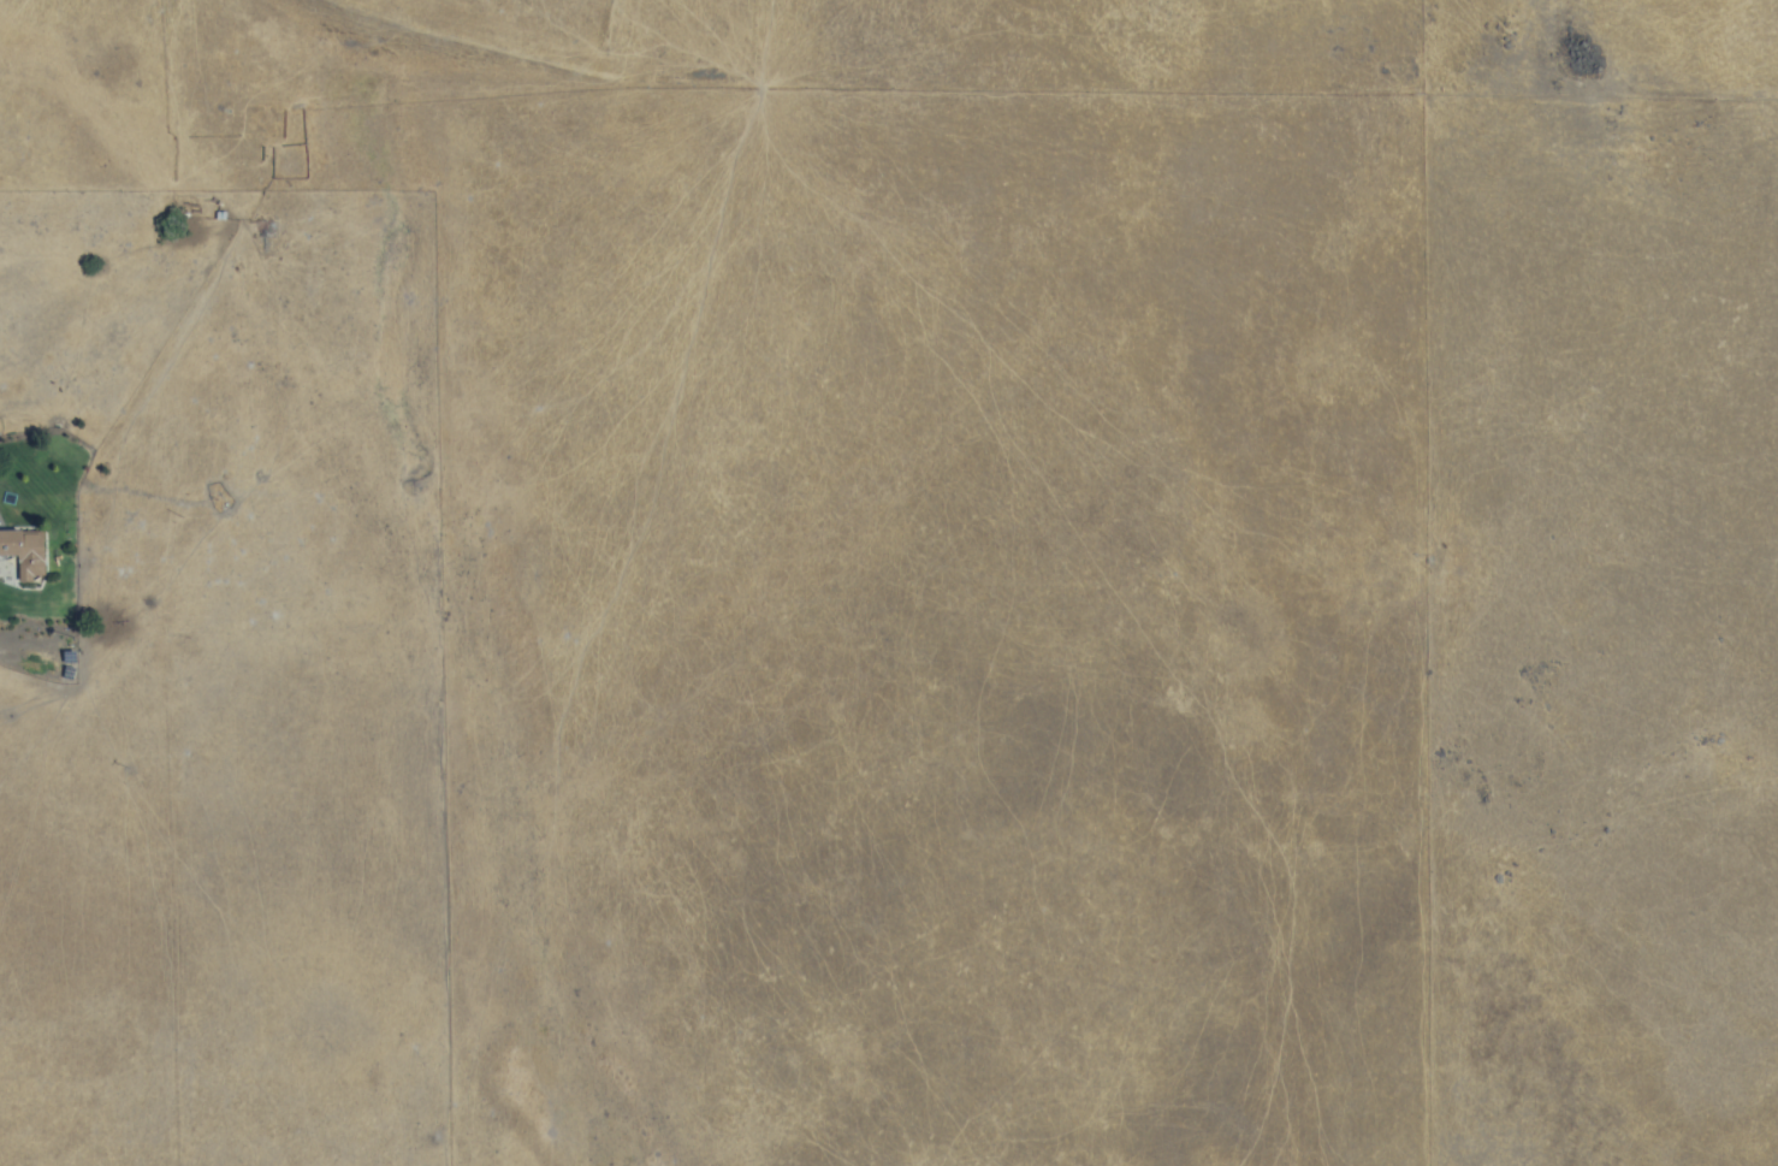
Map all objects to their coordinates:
building: (25, 551)

